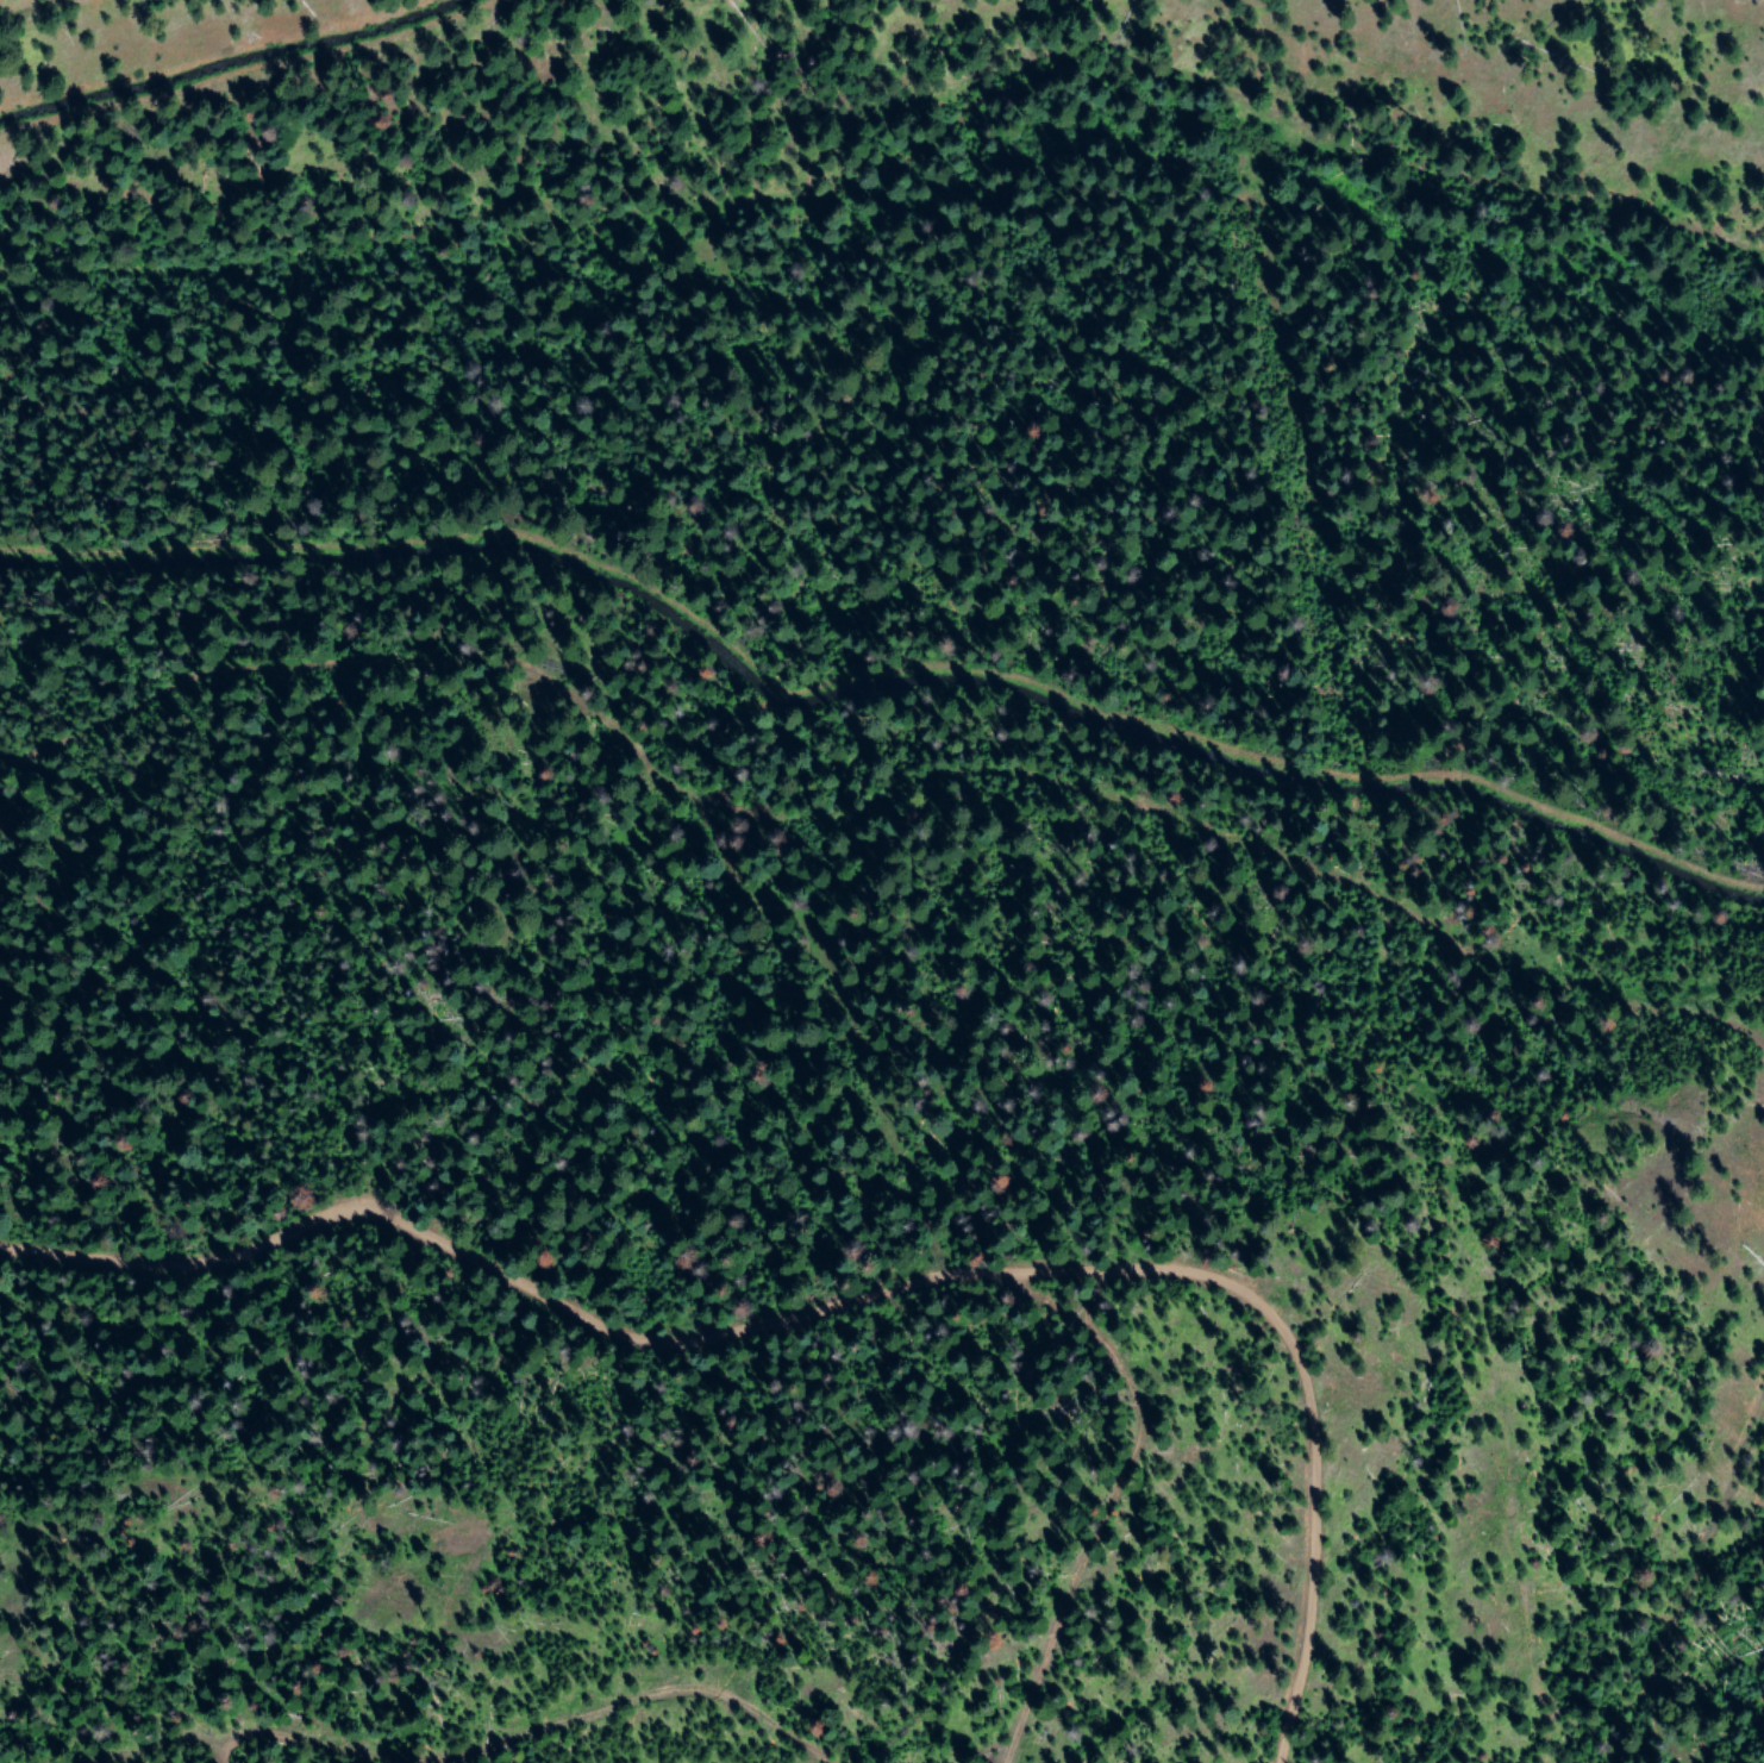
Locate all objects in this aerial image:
road: (17, 5)
road: (1665, 1019)
road: (852, 1270)
road: (1143, 1553)
road: (1713, 1598)
road: (646, 1702)

